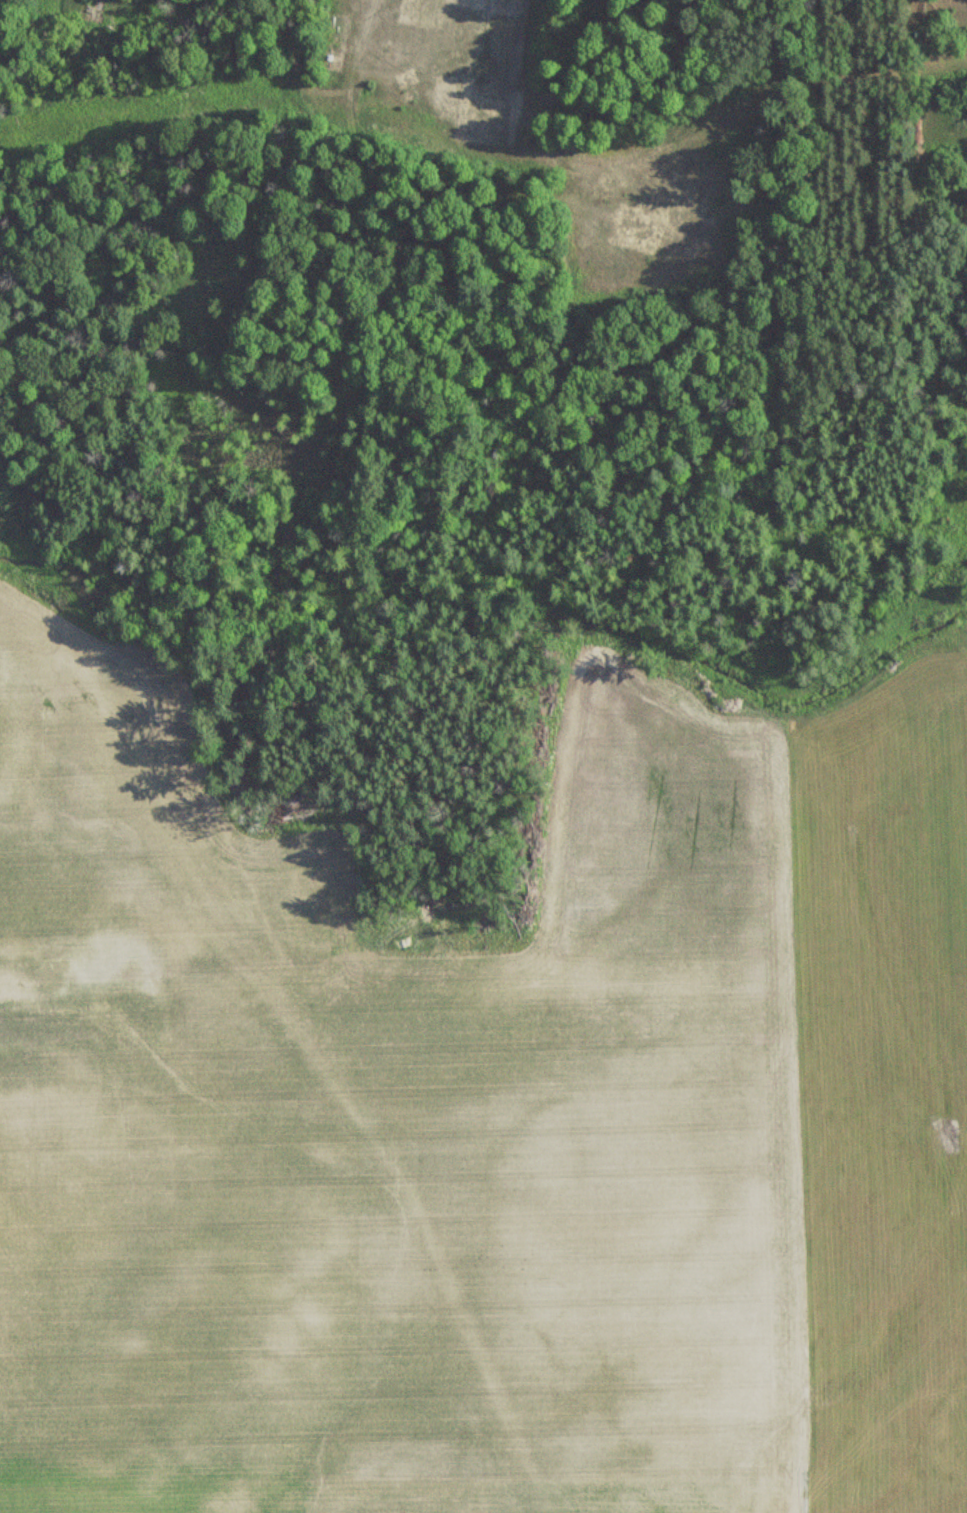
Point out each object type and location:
building: (507, 3)
crop: (132, 840)
crop: (432, 1208)

